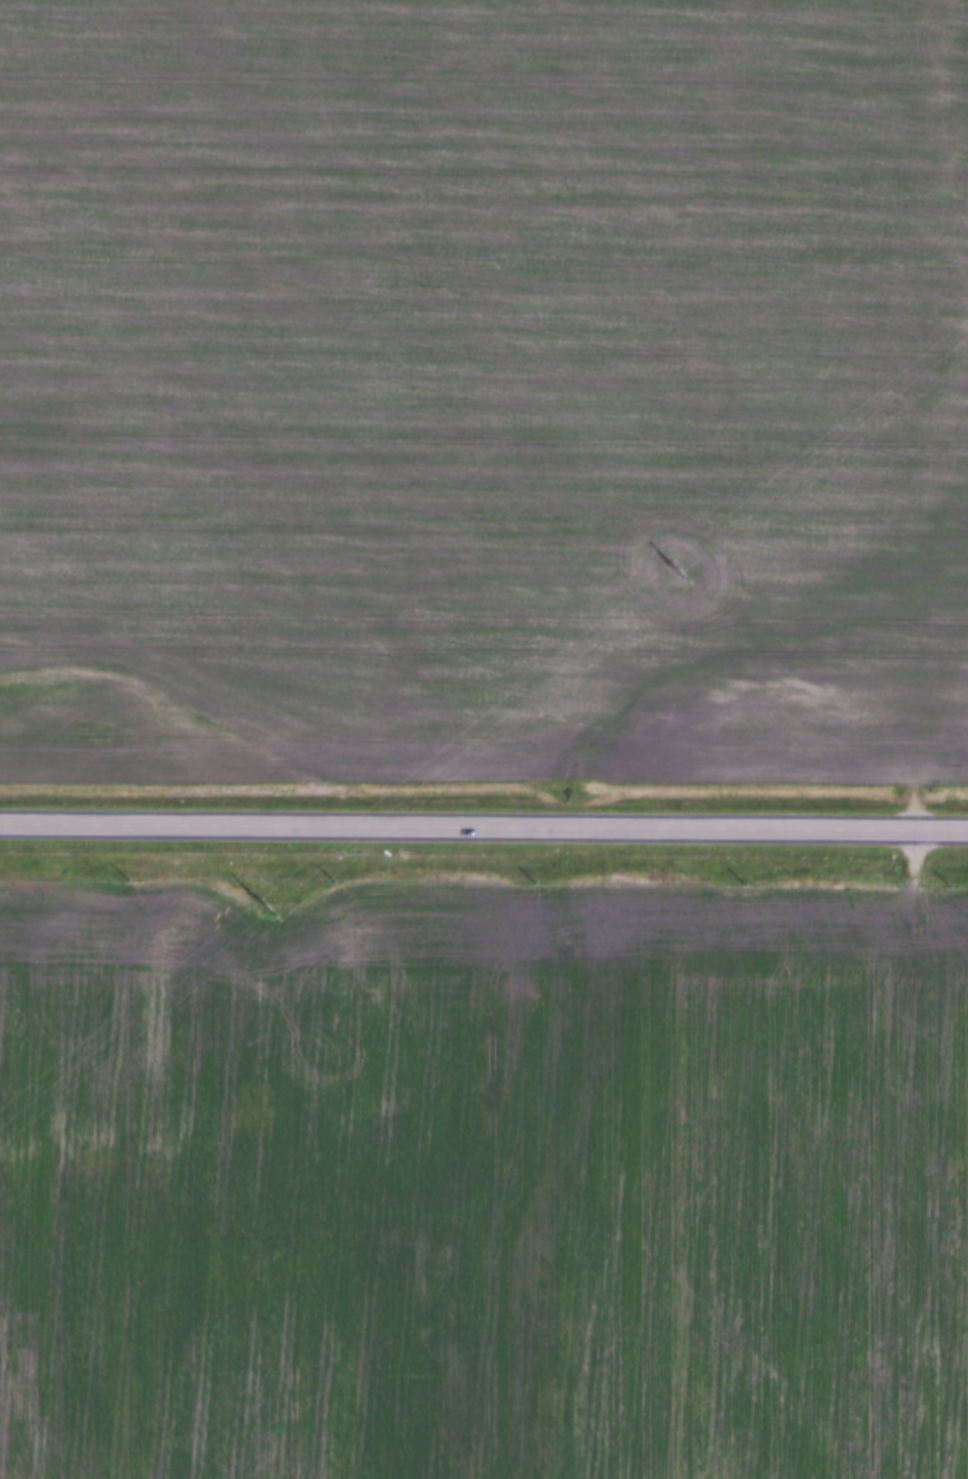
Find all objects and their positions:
power tower: (676, 571)
road: (484, 828)
power tower: (265, 906)
crop: (484, 1180)

